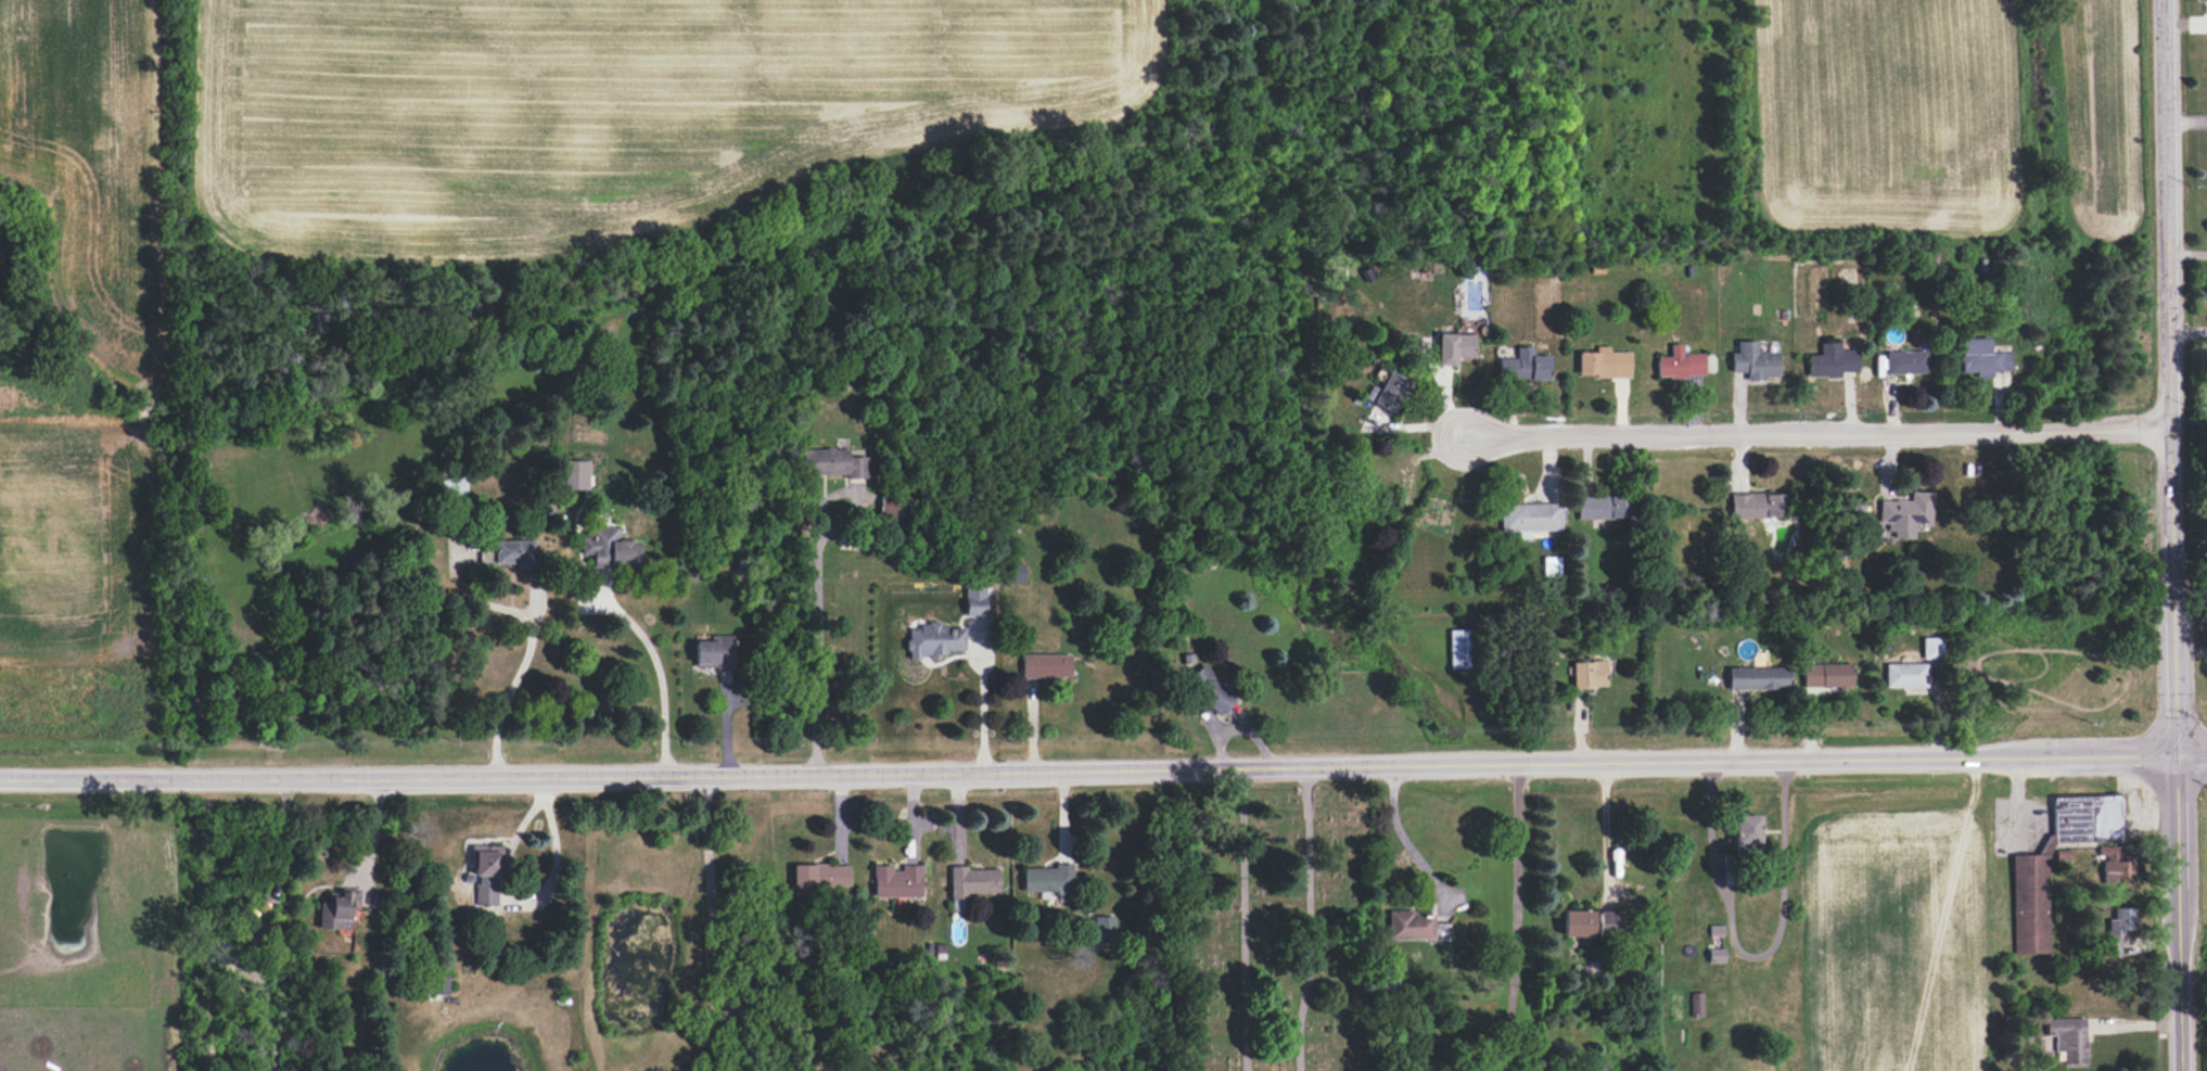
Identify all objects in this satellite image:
crop: (530, 88)
crop: (1957, 107)
road: (2186, 329)
building: (1454, 348)
building: (1982, 358)
building: (1753, 361)
building: (1830, 361)
building: (1905, 362)
building: (1603, 364)
building: (1680, 364)
building: (1523, 366)
building: (1388, 392)
road: (1812, 432)
building: (837, 463)
building: (575, 475)
building: (454, 486)
building: (1757, 506)
building: (1603, 507)
building: (1905, 514)
building: (1529, 518)
road: (2168, 535)
building: (611, 548)
building: (486, 552)
building: (515, 552)
building: (1549, 566)
building: (1013, 573)
building: (974, 601)
road: (815, 623)
building: (933, 640)
building: (1931, 648)
building: (1459, 649)
building: (714, 652)
building: (1046, 666)
road: (655, 667)
building: (1589, 675)
building: (1826, 675)
building: (1904, 675)
building: (1758, 678)
road: (514, 680)
building: (1210, 690)
road: (1103, 768)
road: (2016, 798)
building: (1745, 830)
road: (1603, 831)
road: (1406, 839)
building: (2114, 867)
building: (486, 875)
building: (820, 877)
building: (1047, 879)
building: (972, 881)
building: (896, 882)
road: (507, 898)
road: (1515, 900)
building: (2029, 904)
building: (337, 910)
building: (2123, 918)
building: (1606, 922)
building: (1578, 923)
building: (1408, 926)
building: (1102, 928)
park: (1271, 928)
building: (2110, 928)
building: (2109, 947)
road: (713, 953)
road: (1753, 956)
building: (437, 985)
building: (1696, 1004)
building: (2067, 1038)

